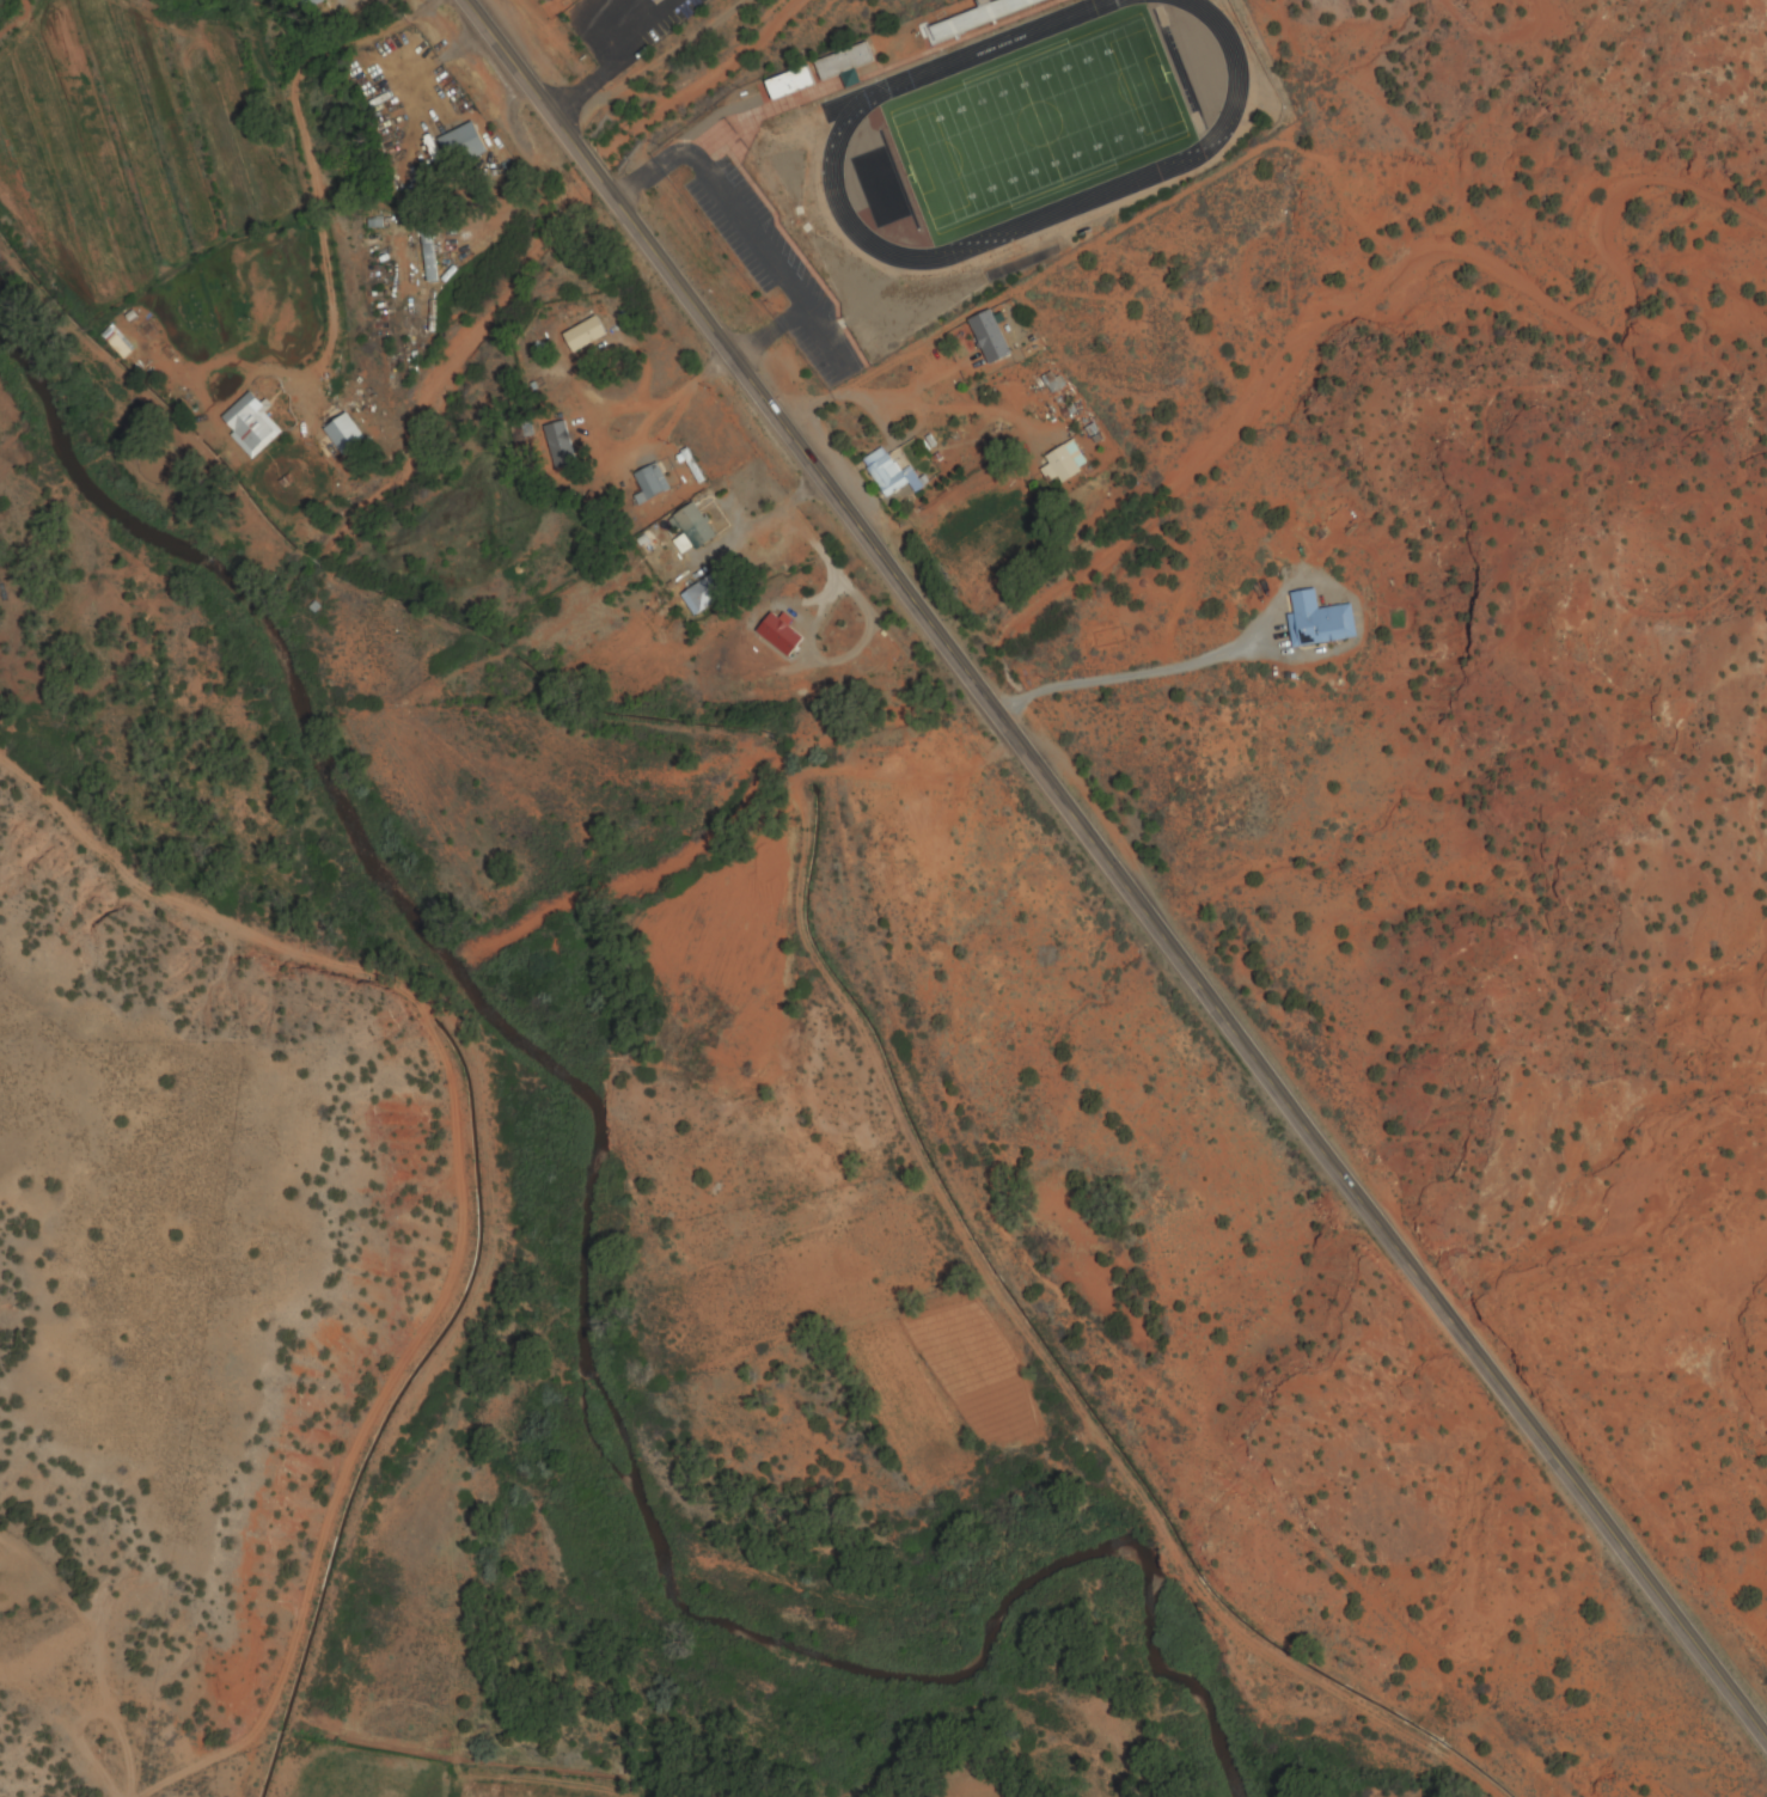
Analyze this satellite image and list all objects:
building: (310, 4)
building: (980, 17)
building: (844, 65)
road: (697, 84)
park: (1029, 126)
track: (1033, 132)
building: (464, 146)
building: (429, 253)
road: (691, 305)
building: (586, 336)
building: (1052, 383)
building: (252, 424)
building: (347, 435)
building: (1066, 463)
building: (892, 475)
building: (653, 482)
building: (696, 528)
building: (769, 528)
building: (708, 595)
building: (1317, 622)
road: (1340, 1175)
road: (454, 1203)

